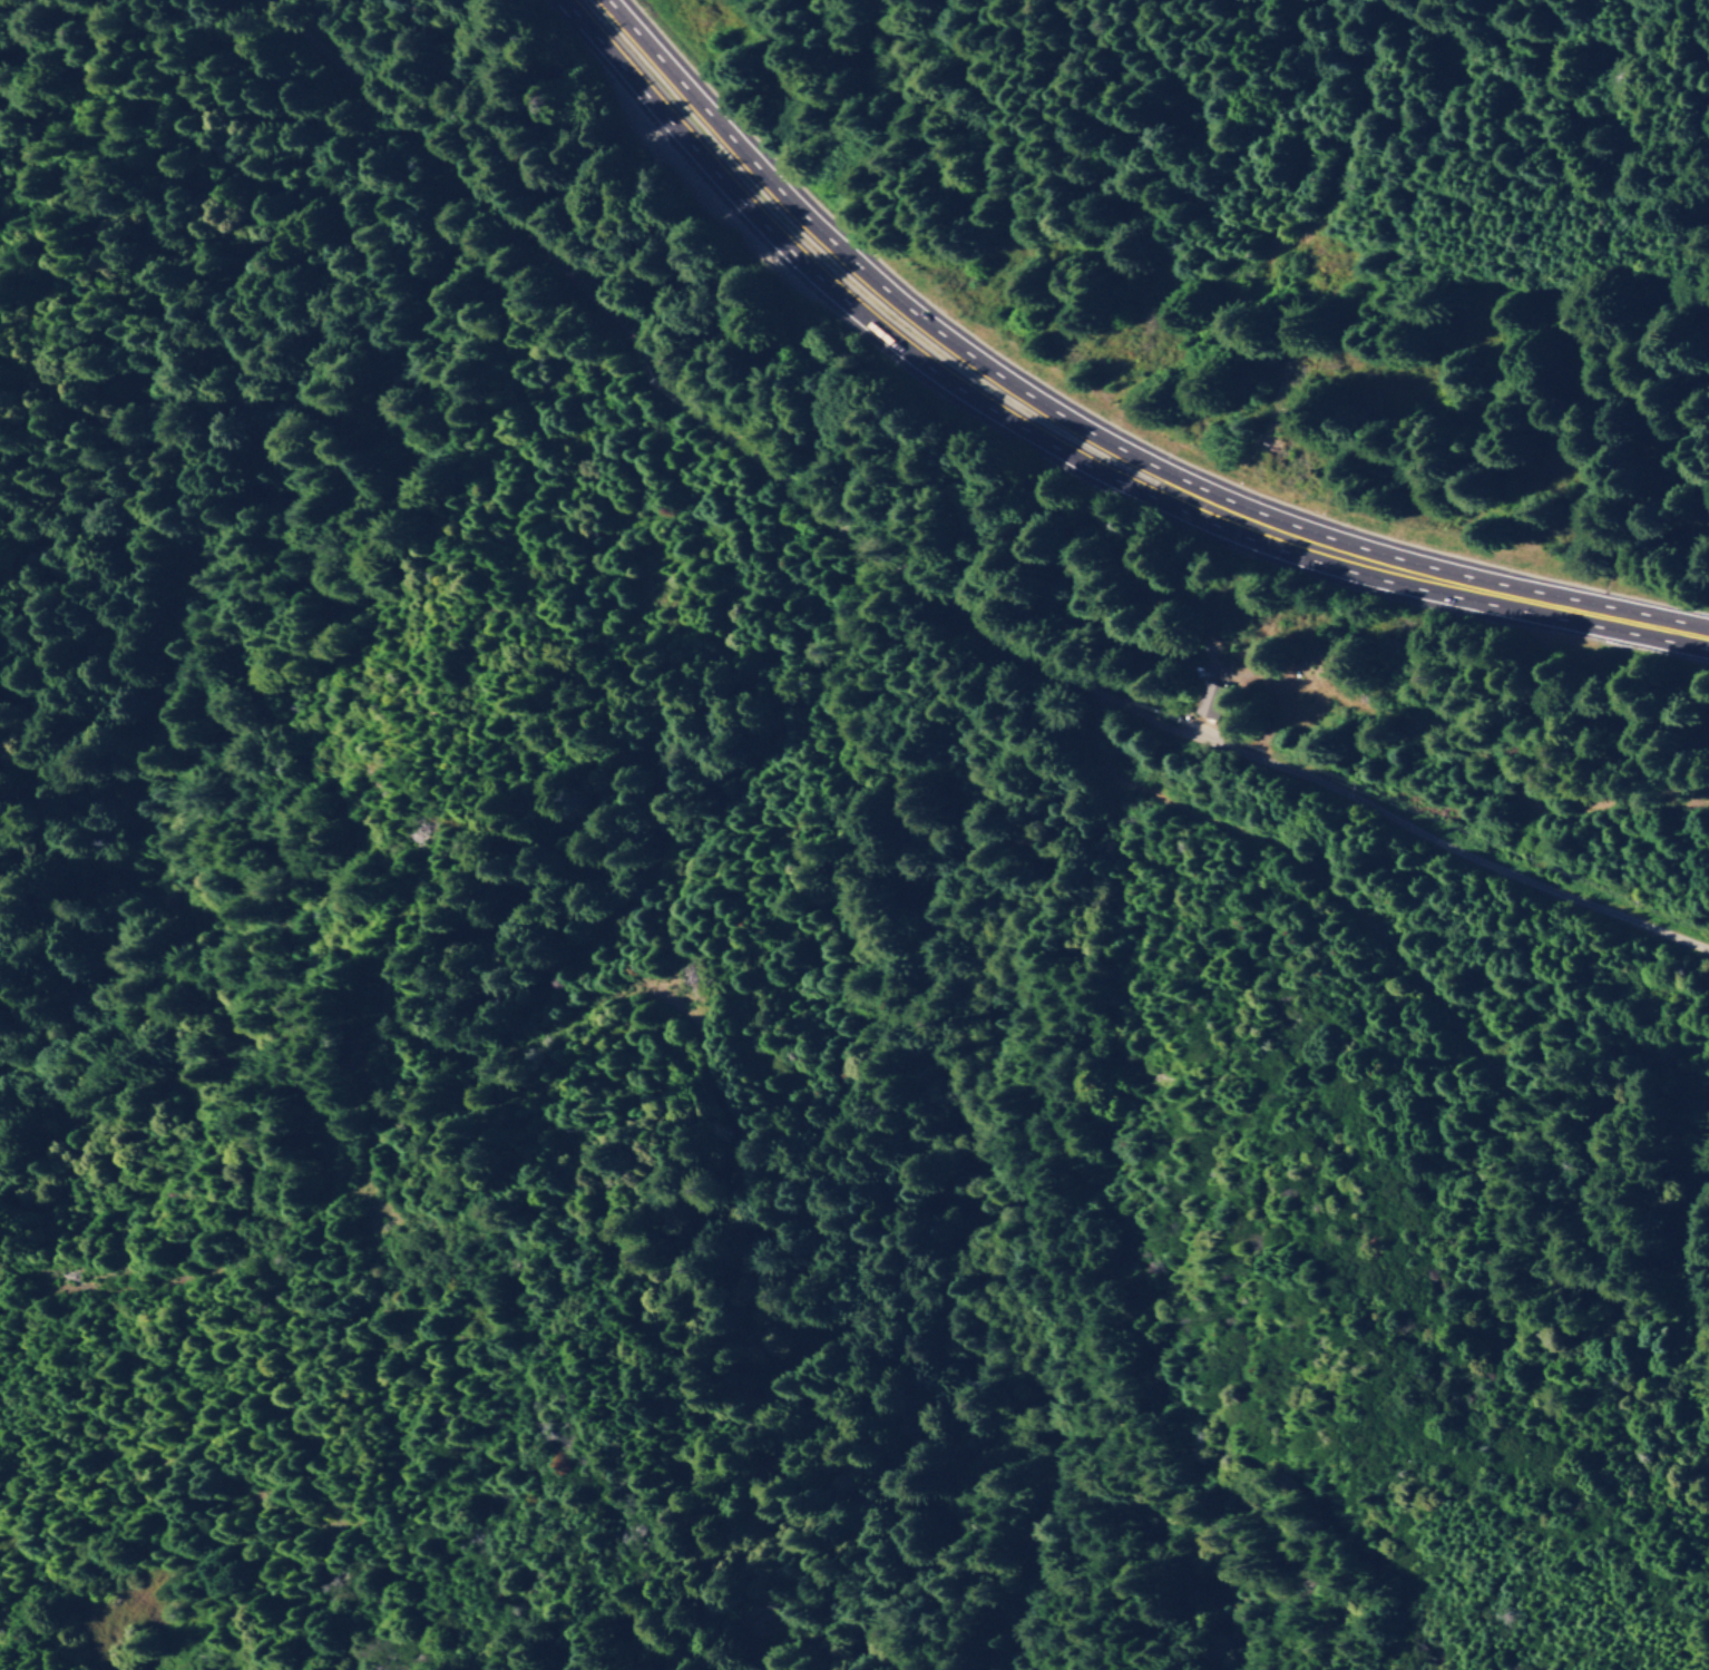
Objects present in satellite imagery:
road: (1378, 7)
road: (989, 372)
road: (956, 393)
road: (898, 595)
road: (1595, 615)
building: (1212, 703)

